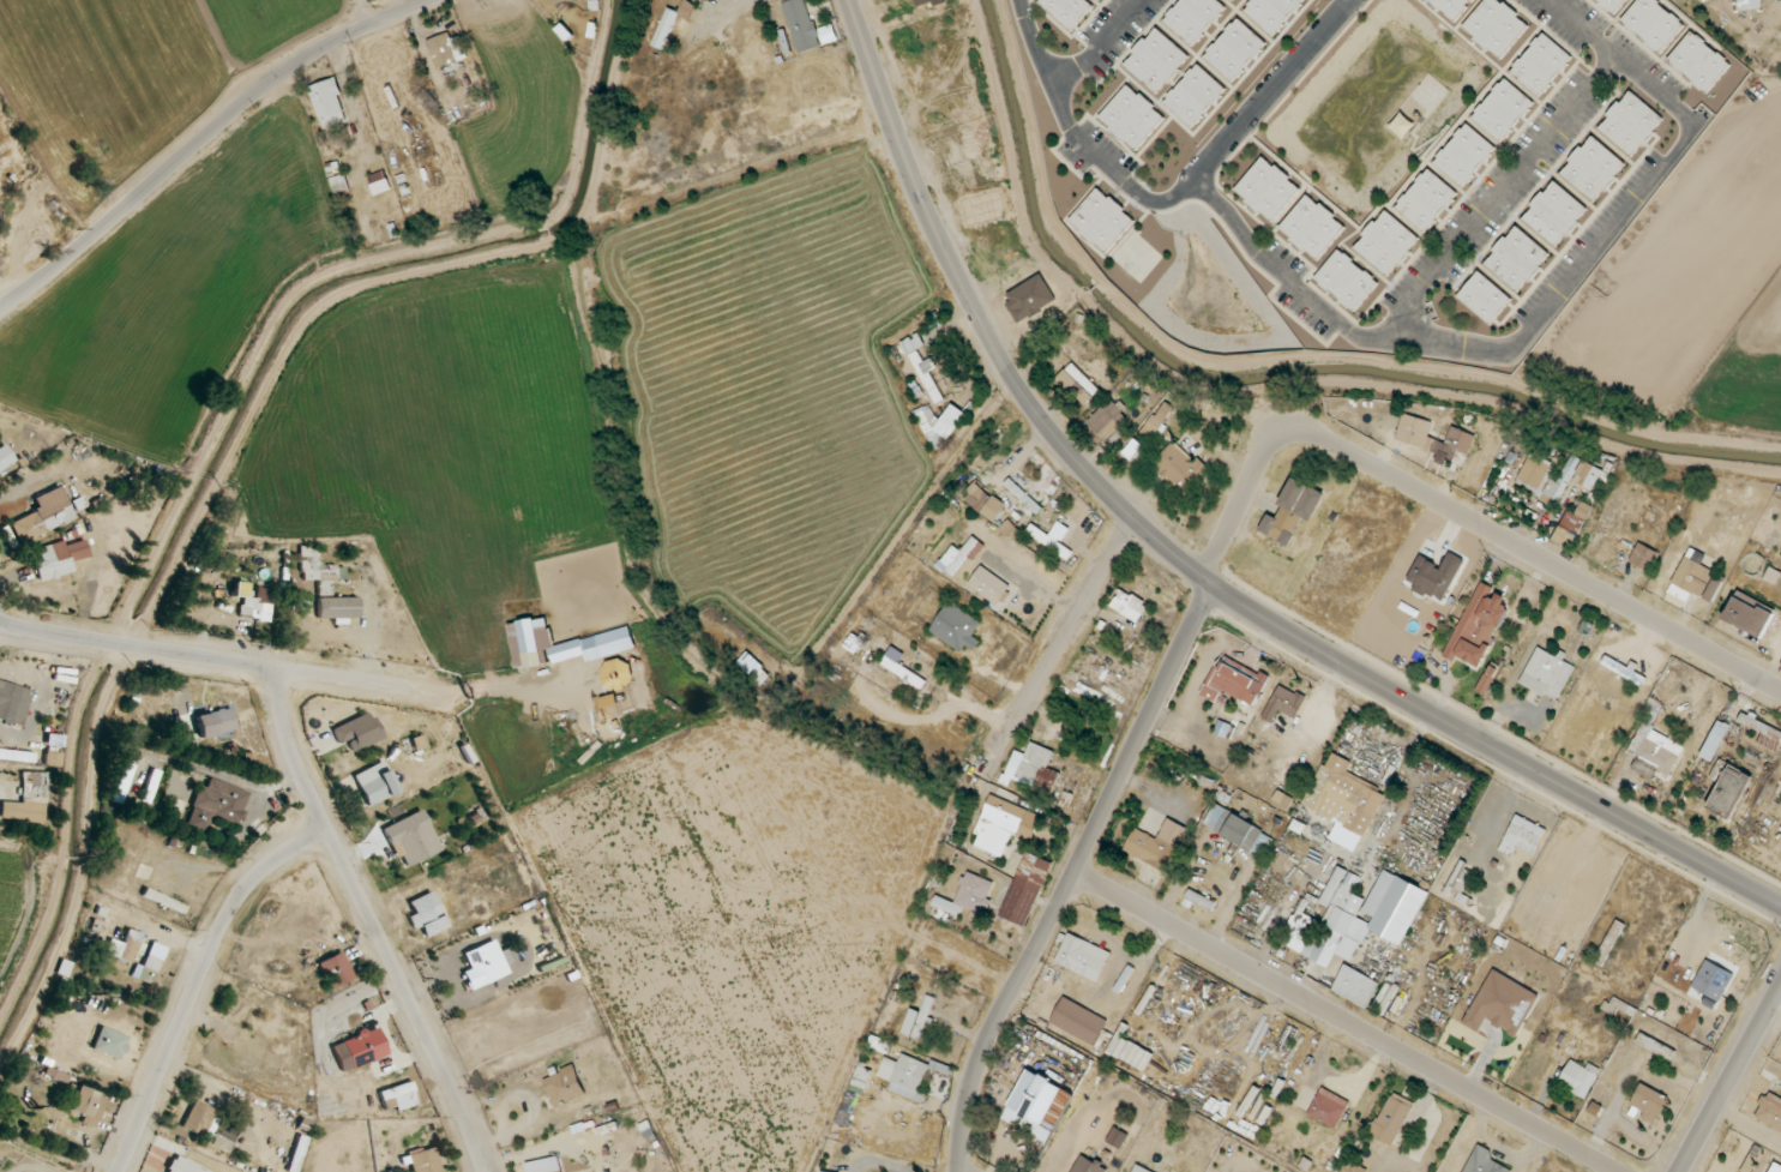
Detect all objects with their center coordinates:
building: (1233, 0)
building: (1613, 4)
building: (1749, 4)
building: (1452, 6)
building: (1066, 11)
building: (1271, 12)
building: (1193, 18)
building: (672, 22)
building: (1653, 23)
building: (806, 26)
building: (1496, 26)
road: (1031, 41)
road: (1099, 47)
building: (1234, 49)
building: (1156, 60)
building: (1698, 61)
building: (1541, 64)
road: (709, 83)
building: (1193, 95)
building: (329, 103)
building: (1503, 109)
road: (1251, 113)
building: (1131, 118)
building: (1631, 124)
road: (204, 137)
road: (1084, 146)
building: (1464, 155)
building: (1593, 168)
building: (379, 185)
building: (1268, 188)
road: (1496, 198)
building: (1426, 200)
building: (1554, 214)
building: (1102, 221)
building: (1313, 227)
building: (1386, 242)
building: (1517, 258)
building: (1347, 280)
building: (1484, 297)
road: (1544, 312)
building: (923, 366)
building: (1078, 384)
building: (1108, 419)
building: (939, 422)
building: (1159, 422)
building: (1412, 435)
building: (5, 457)
building: (1179, 465)
building: (1589, 475)
building: (1546, 477)
building: (1019, 493)
building: (983, 501)
building: (46, 511)
building: (1293, 511)
road: (1458, 512)
building: (1572, 524)
building: (1010, 530)
building: (959, 555)
building: (1643, 557)
building: (54, 560)
building: (319, 570)
road: (1192, 571)
building: (1434, 575)
building: (1690, 579)
building: (988, 584)
building: (1714, 587)
building: (257, 603)
building: (1129, 606)
building: (338, 607)
building: (1749, 614)
building: (1478, 625)
building: (957, 627)
road: (1065, 633)
road: (205, 656)
building: (899, 667)
building: (753, 668)
building: (1624, 671)
building: (1546, 674)
building: (1487, 679)
building: (1234, 683)
building: (13, 703)
building: (1284, 703)
building: (216, 722)
building: (357, 732)
building: (1715, 740)
building: (1654, 746)
building: (14, 755)
building: (1031, 769)
building: (374, 783)
building: (1728, 788)
road: (4, 791)
building: (26, 799)
building: (1282, 799)
building: (1343, 801)
building: (216, 805)
building: (1005, 824)
building: (1239, 830)
building: (1522, 836)
building: (411, 839)
building: (1156, 842)
building: (1461, 877)
road: (1076, 878)
building: (1027, 889)
building: (967, 895)
building: (1201, 900)
building: (427, 914)
building: (1356, 916)
road: (371, 921)
building: (124, 946)
building: (1082, 957)
building: (151, 963)
building: (483, 964)
building: (335, 969)
building: (1713, 980)
road: (199, 981)
building: (1355, 986)
building: (1502, 1004)
building: (917, 1018)
building: (1078, 1021)
road: (1347, 1022)
building: (109, 1042)
building: (1655, 1046)
building: (359, 1050)
building: (1578, 1077)
road: (1728, 1077)
building: (564, 1087)
building: (856, 1088)
building: (398, 1096)
building: (1649, 1102)
building: (86, 1104)
building: (1037, 1106)
building: (1328, 1107)
building: (1770, 1110)
building: (198, 1118)
building: (1391, 1118)
building: (219, 1141)
building: (296, 1154)
building: (0, 1160)
building: (422, 1161)
building: (1484, 1161)
building: (544, 1165)
building: (1088, 1165)
building: (182, 1166)
building: (1352, 1167)
building: (1139, 1168)
building: (1775, 1168)
building: (823, 1171)

